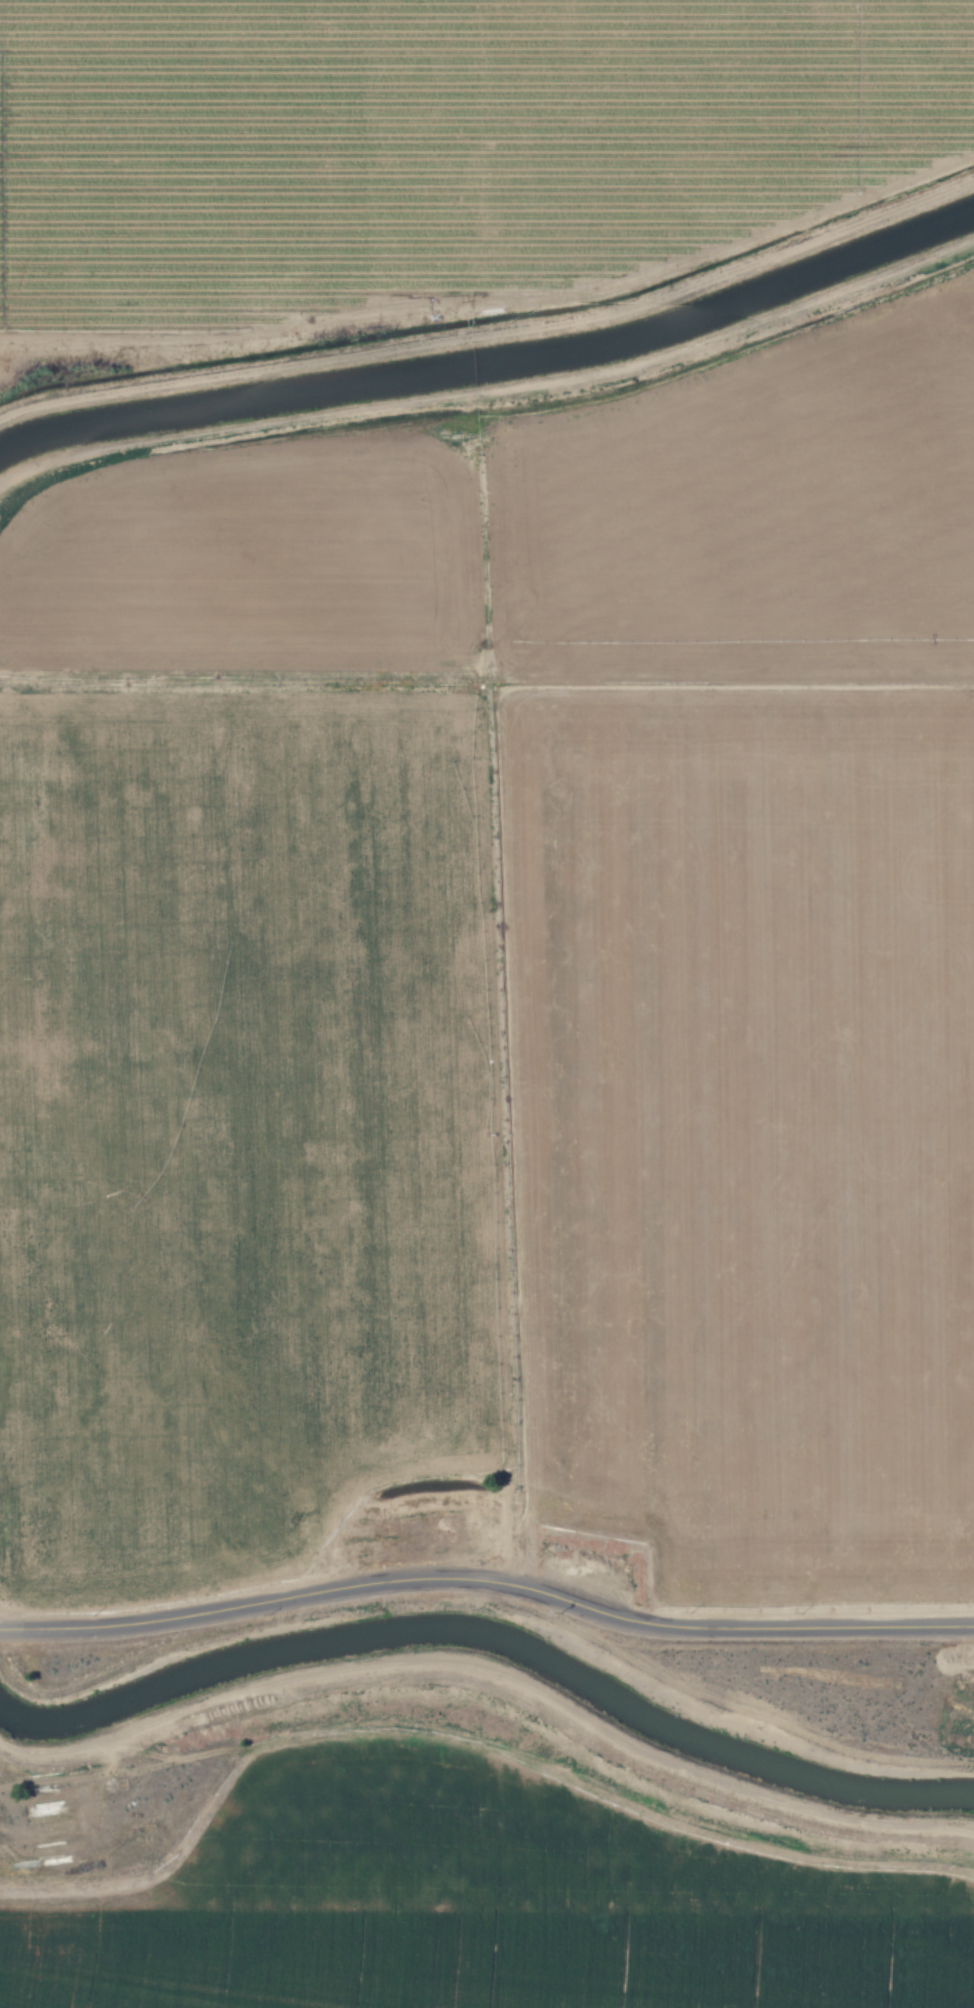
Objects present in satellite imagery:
road: (488, 1580)

